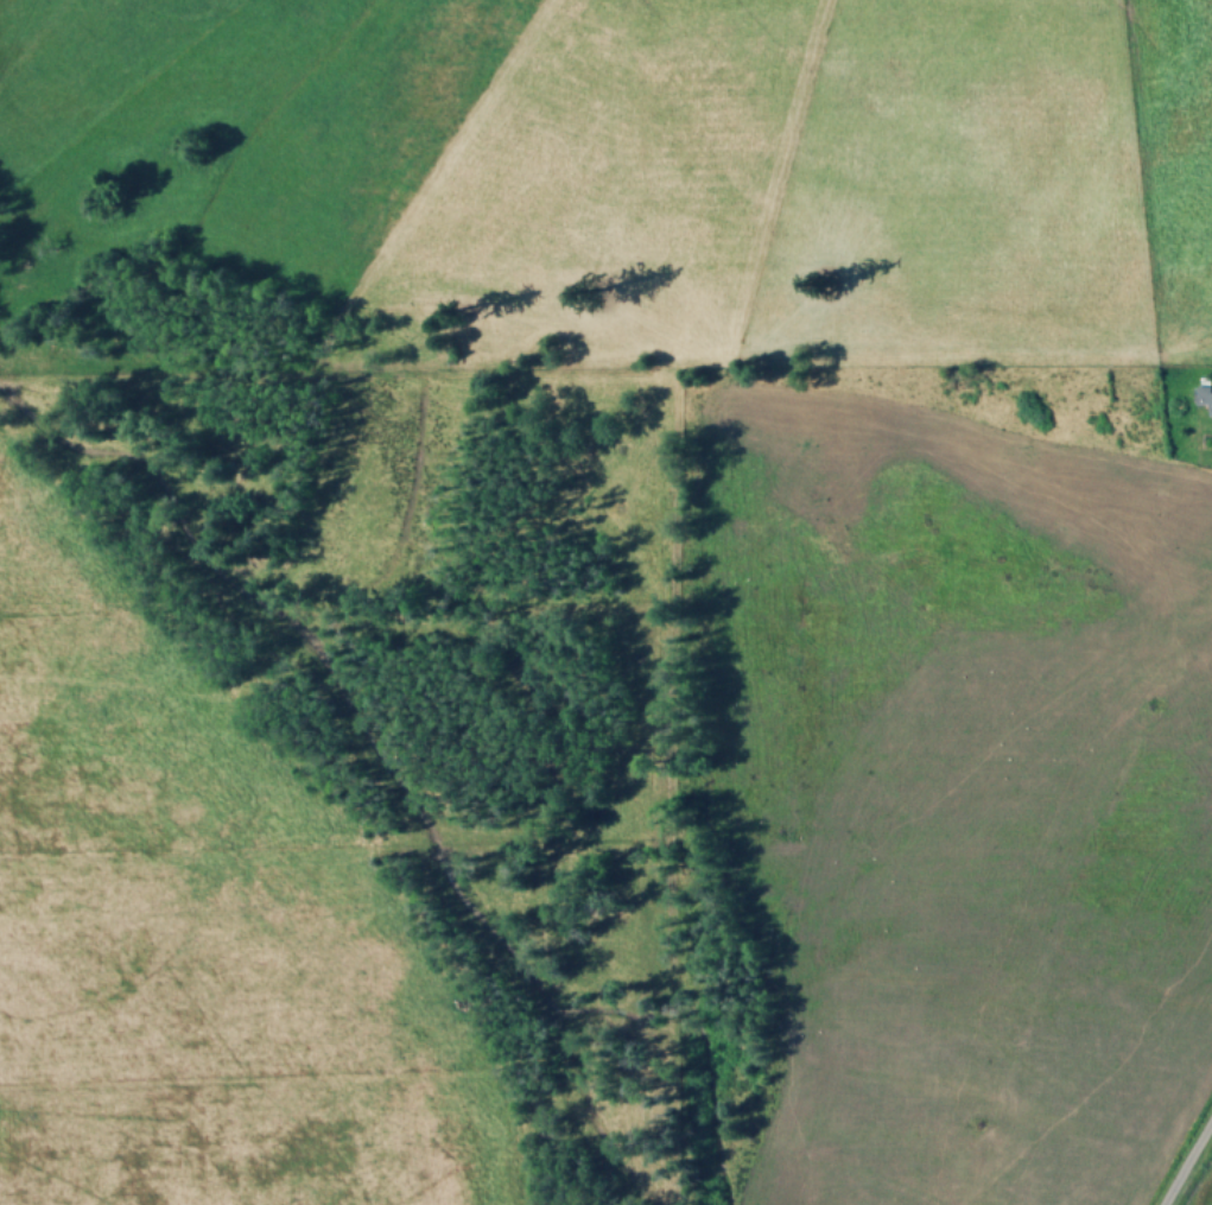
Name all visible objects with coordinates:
crop: (640, 171)
building: (1204, 395)
road: (1186, 1159)

